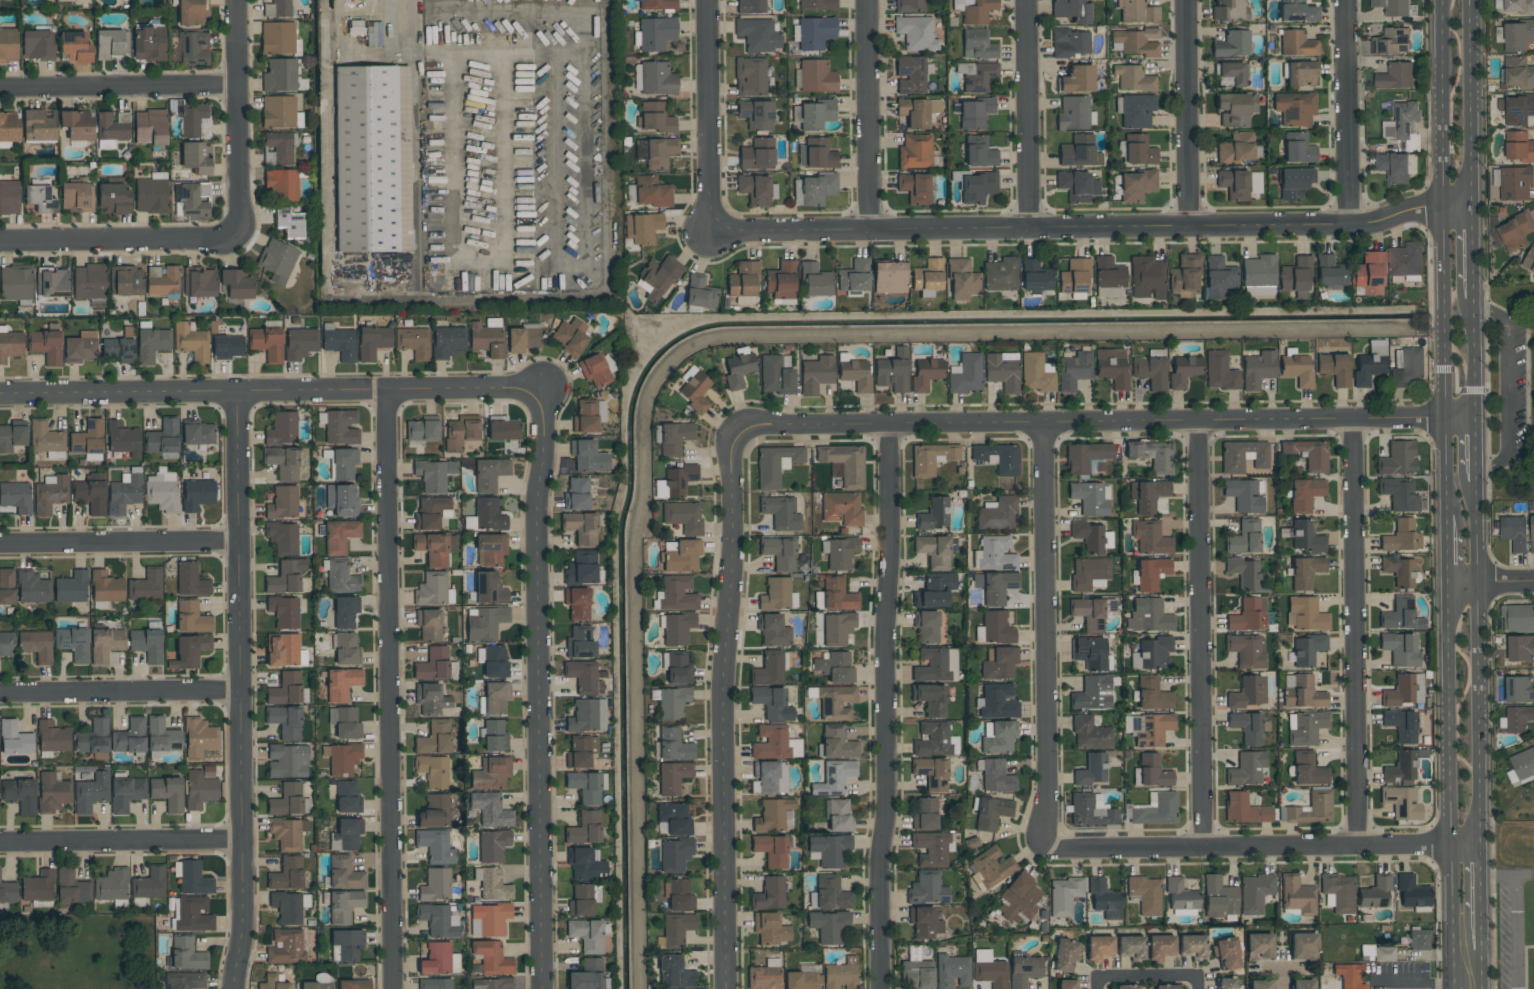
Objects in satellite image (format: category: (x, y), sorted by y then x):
building: (658, 4)
building: (817, 5)
building: (909, 6)
building: (1518, 6)
building: (750, 7)
building: (1392, 7)
building: (276, 8)
building: (975, 10)
building: (1072, 10)
building: (1230, 10)
building: (1137, 12)
building: (191, 13)
building: (364, 32)
building: (656, 33)
building: (814, 33)
building: (916, 33)
building: (758, 35)
building: (1515, 35)
building: (279, 38)
building: (1069, 42)
building: (1135, 42)
building: (1391, 42)
building: (149, 43)
building: (1232, 44)
building: (1297, 44)
building: (8, 45)
building: (38, 45)
building: (978, 45)
building: (74, 47)
building: (194, 48)
building: (1234, 73)
building: (1301, 74)
building: (910, 75)
building: (280, 76)
building: (750, 76)
building: (976, 76)
building: (1395, 76)
building: (815, 77)
building: (1133, 78)
building: (655, 79)
building: (1077, 79)
road: (118, 86)
road: (1471, 102)
building: (1295, 108)
building: (1236, 109)
building: (1516, 109)
building: (1135, 110)
building: (917, 111)
road: (1187, 112)
building: (280, 113)
road: (869, 113)
building: (975, 113)
road: (1028, 113)
building: (1075, 113)
road: (1349, 113)
building: (756, 114)
road: (708, 115)
building: (816, 115)
road: (237, 118)
building: (655, 118)
building: (1401, 121)
building: (77, 124)
building: (39, 125)
building: (113, 126)
building: (150, 127)
building: (9, 129)
building: (281, 147)
building: (1518, 147)
building: (1236, 148)
building: (1298, 148)
building: (1137, 150)
building: (656, 152)
building: (915, 152)
building: (979, 152)
building: (1079, 152)
building: (816, 154)
building: (757, 155)
building: (195, 157)
building: (372, 159)
building: (1393, 167)
building: (1294, 182)
building: (282, 184)
building: (1239, 184)
building: (1077, 186)
building: (1136, 186)
building: (977, 187)
building: (914, 188)
building: (813, 189)
building: (756, 190)
building: (651, 192)
building: (151, 194)
building: (9, 197)
building: (76, 197)
building: (39, 198)
building: (113, 199)
building: (191, 199)
building: (289, 223)
road: (1092, 225)
building: (642, 227)
building: (1515, 232)
road: (119, 238)
road: (1473, 252)
road: (1446, 257)
building: (1529, 260)
building: (277, 261)
building: (1406, 261)
building: (1330, 271)
building: (1109, 273)
building: (1370, 273)
building: (1001, 274)
building: (928, 275)
building: (1258, 275)
building: (1295, 275)
building: (854, 276)
building: (1074, 276)
building: (1184, 276)
building: (658, 278)
building: (889, 278)
building: (1035, 278)
building: (1147, 278)
building: (743, 279)
building: (961, 279)
building: (781, 280)
building: (815, 280)
building: (88, 281)
building: (127, 281)
building: (163, 281)
building: (15, 282)
building: (52, 282)
building: (199, 282)
building: (236, 284)
building: (699, 292)
road: (1520, 326)
building: (570, 336)
building: (486, 337)
building: (523, 338)
road: (740, 340)
building: (447, 341)
building: (191, 342)
building: (339, 342)
building: (372, 342)
building: (413, 342)
building: (267, 343)
building: (300, 343)
building: (151, 344)
building: (10, 345)
building: (46, 346)
building: (227, 346)
building: (80, 347)
building: (118, 350)
road: (1475, 360)
building: (1371, 364)
building: (1112, 368)
building: (1335, 368)
building: (1407, 368)
building: (597, 369)
building: (1258, 369)
building: (1297, 370)
building: (893, 371)
building: (1002, 371)
building: (1073, 371)
building: (1219, 371)
building: (1151, 372)
building: (1035, 373)
building: (1183, 373)
building: (816, 374)
building: (926, 374)
building: (966, 374)
building: (775, 376)
road: (1507, 387)
building: (695, 392)
park: (1511, 393)
road: (270, 394)
building: (585, 417)
road: (1110, 424)
building: (340, 427)
building: (281, 429)
building: (502, 429)
building: (422, 431)
building: (460, 432)
building: (198, 434)
building: (12, 438)
building: (45, 438)
building: (674, 438)
building: (123, 439)
building: (163, 439)
road: (1521, 439)
building: (88, 441)
road: (1477, 447)
building: (1307, 454)
building: (1152, 455)
building: (1243, 456)
building: (588, 457)
building: (1087, 457)
building: (931, 458)
building: (998, 458)
building: (1399, 459)
building: (283, 463)
building: (344, 463)
building: (845, 464)
building: (775, 465)
building: (489, 474)
building: (434, 475)
building: (678, 480)
building: (162, 491)
building: (124, 493)
building: (50, 494)
building: (91, 494)
building: (197, 494)
building: (576, 494)
building: (1305, 494)
building: (1399, 494)
building: (1148, 495)
building: (1245, 495)
building: (16, 497)
building: (1090, 498)
building: (342, 500)
building: (283, 503)
building: (841, 508)
building: (783, 512)
building: (432, 513)
building: (933, 514)
building: (996, 514)
building: (486, 515)
building: (683, 516)
building: (581, 528)
building: (1514, 533)
building: (1532, 534)
building: (339, 536)
building: (1091, 537)
building: (1306, 537)
building: (1401, 537)
building: (282, 538)
building: (1150, 538)
building: (1244, 538)
road: (118, 544)
road: (1451, 547)
building: (435, 548)
building: (491, 548)
building: (936, 550)
building: (779, 553)
building: (839, 553)
building: (994, 554)
building: (681, 555)
building: (581, 568)
building: (1399, 571)
building: (1306, 572)
building: (1089, 573)
building: (1244, 573)
building: (1149, 574)
building: (340, 576)
building: (286, 577)
road: (1493, 580)
building: (191, 581)
building: (7, 586)
building: (146, 586)
building: (33, 587)
building: (106, 587)
building: (995, 587)
building: (71, 588)
building: (433, 589)
building: (489, 589)
building: (935, 590)
building: (676, 594)
building: (778, 594)
building: (577, 603)
building: (284, 612)
building: (345, 612)
building: (1088, 613)
building: (1305, 614)
building: (1248, 615)
building: (1400, 615)
building: (1149, 616)
building: (191, 618)
building: (1518, 618)
building: (484, 623)
building: (429, 625)
building: (926, 626)
building: (676, 628)
building: (994, 628)
building: (837, 629)
building: (773, 631)
road: (1355, 633)
road: (1199, 634)
road: (1044, 636)
building: (73, 643)
building: (580, 643)
building: (7, 644)
building: (106, 644)
building: (147, 644)
building: (36, 645)
building: (1520, 648)
building: (346, 649)
building: (1307, 649)
building: (1400, 649)
building: (283, 650)
building: (1247, 650)
building: (189, 652)
building: (1091, 653)
building: (1151, 654)
road: (1478, 658)
building: (492, 661)
building: (998, 663)
building: (433, 664)
building: (936, 665)
building: (834, 667)
building: (678, 669)
building: (768, 669)
building: (583, 677)
building: (342, 684)
building: (285, 689)
road: (540, 690)
building: (1519, 690)
road: (239, 691)
road: (383, 691)
building: (1404, 691)
road: (120, 692)
building: (1302, 692)
building: (1093, 693)
building: (1248, 693)
building: (1152, 694)
building: (495, 696)
building: (431, 699)
building: (931, 699)
building: (996, 702)
building: (672, 703)
building: (835, 703)
road: (727, 704)
building: (773, 704)
road: (883, 707)
building: (587, 716)
building: (1516, 719)
building: (285, 721)
building: (345, 723)
building: (1401, 726)
building: (1247, 727)
building: (1305, 728)
building: (1090, 734)
building: (161, 735)
building: (494, 736)
building: (53, 737)
building: (93, 737)
building: (129, 737)
building: (998, 737)
building: (199, 738)
building: (435, 738)
building: (14, 739)
building: (934, 740)
building: (775, 743)
building: (837, 743)
building: (674, 745)
building: (581, 751)
building: (342, 759)
building: (287, 761)
building: (1521, 766)
building: (1403, 767)
building: (1246, 769)
building: (1091, 770)
building: (1308, 770)
building: (433, 771)
building: (1151, 772)
building: (491, 773)
building: (931, 773)
building: (995, 776)
building: (769, 777)
building: (672, 778)
building: (834, 778)
road: (1451, 784)
building: (587, 786)
building: (200, 788)
building: (53, 792)
building: (91, 792)
building: (167, 793)
building: (20, 794)
building: (126, 794)
building: (347, 796)
building: (289, 801)
building: (1401, 802)
building: (1312, 808)
building: (1156, 809)
building: (1245, 809)
building: (434, 811)
building: (1091, 811)
building: (493, 813)
building: (991, 813)
building: (925, 814)
building: (772, 815)
building: (838, 815)
building: (584, 829)
building: (287, 834)
building: (346, 835)
road: (120, 844)
road: (1264, 844)
building: (493, 845)
building: (435, 846)
building: (931, 848)
building: (771, 850)
building: (829, 850)
building: (674, 855)
building: (586, 864)
building: (992, 866)
building: (344, 873)
building: (286, 874)
road: (1507, 875)
building: (192, 878)
building: (149, 884)
building: (492, 884)
building: (111, 885)
building: (438, 885)
building: (38, 886)
building: (72, 888)
building: (927, 888)
building: (1339, 892)
building: (1412, 892)
building: (831, 893)
building: (1255, 893)
building: (1375, 893)
building: (7, 894)
building: (769, 894)
building: (1146, 895)
building: (1180, 895)
building: (1297, 895)
road: (1481, 895)
building: (679, 896)
building: (1064, 896)
building: (1219, 897)
building: (1019, 899)
building: (1105, 900)
building: (581, 901)
building: (344, 906)
building: (289, 907)
building: (191, 914)
building: (489, 919)
building: (438, 920)
building: (924, 922)
building: (829, 926)
building: (677, 929)
building: (770, 929)
road: (1517, 932)
building: (587, 935)
building: (1419, 939)
building: (346, 945)
building: (285, 946)
building: (1259, 946)
building: (1303, 946)
building: (1131, 947)
building: (1160, 947)
building: (1193, 947)
building: (1099, 948)
park: (76, 952)
building: (1377, 953)
building: (186, 954)
building: (1227, 954)
building: (1064, 956)
building: (492, 958)
building: (439, 960)
road: (1481, 968)
road: (1283, 970)
building: (951, 971)
building: (675, 973)
building: (990, 973)
building: (841, 974)
building: (587, 975)
building: (765, 975)
building: (917, 975)
building: (1349, 976)
road: (1148, 977)
building: (803, 978)
road: (1284, 979)
building: (185, 980)
road: (1414, 981)
building: (273, 982)
building: (319, 982)
building: (434, 983)
building: (1225, 983)
building: (354, 984)
building: (491, 984)
building: (1066, 984)
building: (1261, 984)
building: (1302, 984)
building: (1125, 987)
building: (1167, 987)

